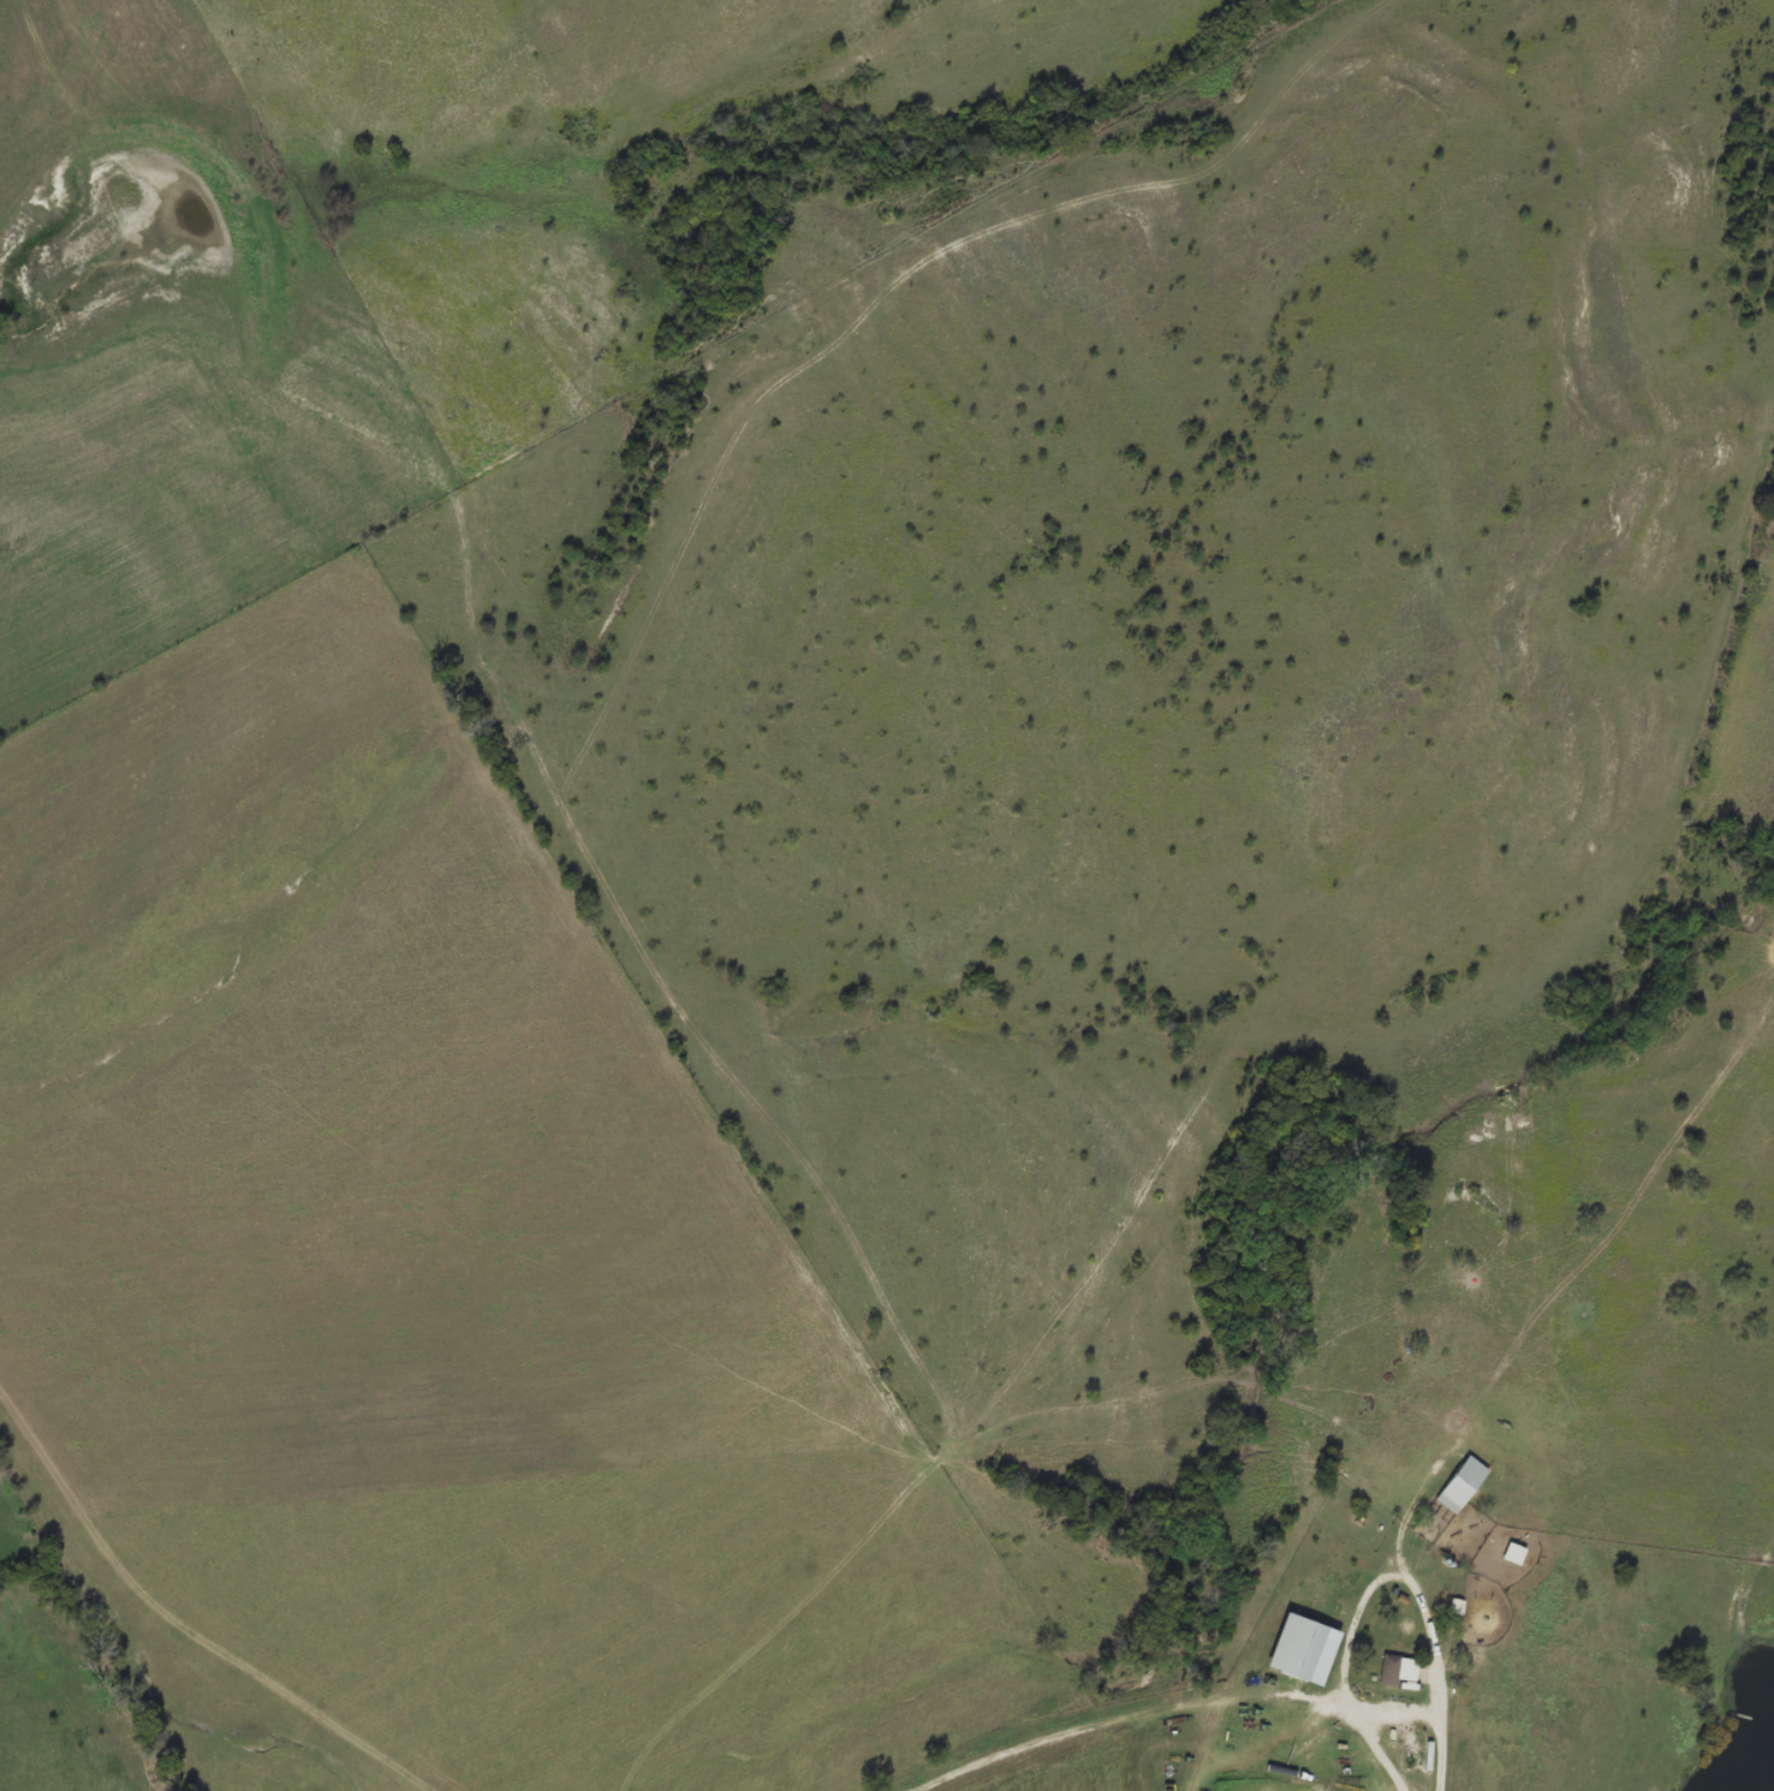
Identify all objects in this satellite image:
building: (1459, 1483)
building: (1293, 1646)
building: (1394, 1668)

